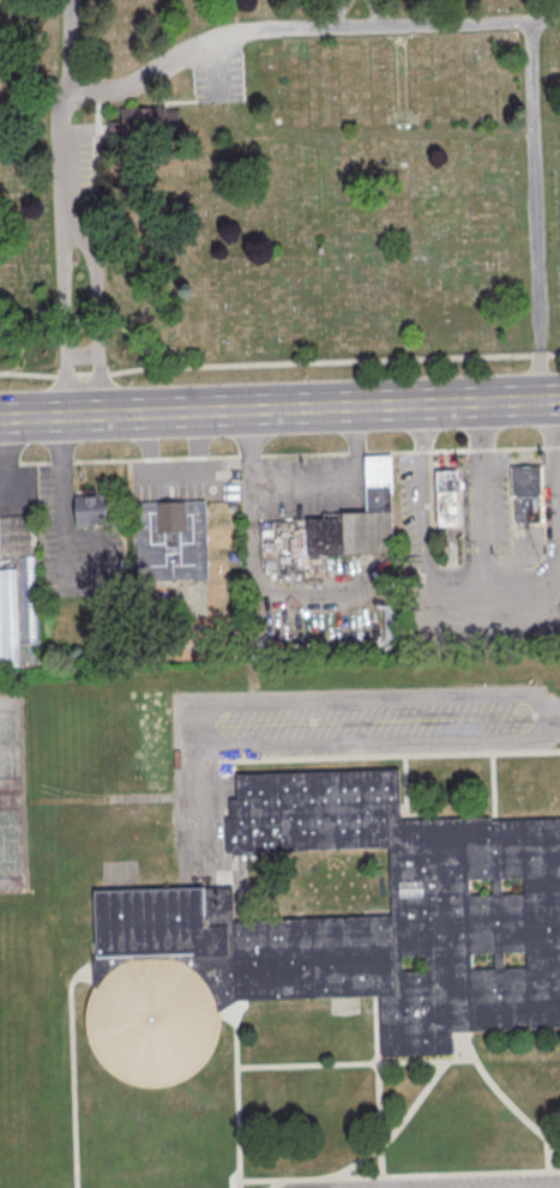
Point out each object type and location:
road: (378, 12)
road: (335, 13)
road: (252, 30)
road: (70, 42)
road: (219, 66)
parking lot: (219, 77)
building: (151, 122)
parking lot: (74, 159)
park: (277, 180)
road: (534, 210)
road: (95, 301)
road: (61, 306)
road: (279, 364)
road: (312, 406)
road: (32, 415)
road: (5, 451)
road: (279, 453)
road: (174, 471)
parking lot: (183, 480)
road: (302, 483)
road: (555, 489)
parking lot: (18, 492)
road: (420, 493)
building: (524, 493)
building: (442, 496)
road: (252, 505)
building: (91, 507)
building: (353, 521)
road: (484, 521)
building: (170, 539)
road: (62, 562)
road: (523, 579)
road: (275, 591)
building: (29, 599)
building: (8, 619)
building: (391, 622)
road: (306, 699)
road: (381, 743)
road: (390, 754)
park: (12, 796)
building: (336, 930)
road: (424, 1059)
road: (377, 1087)
road: (236, 1096)
road: (397, 1126)
road: (554, 1145)
road: (398, 1174)
road: (273, 1183)

